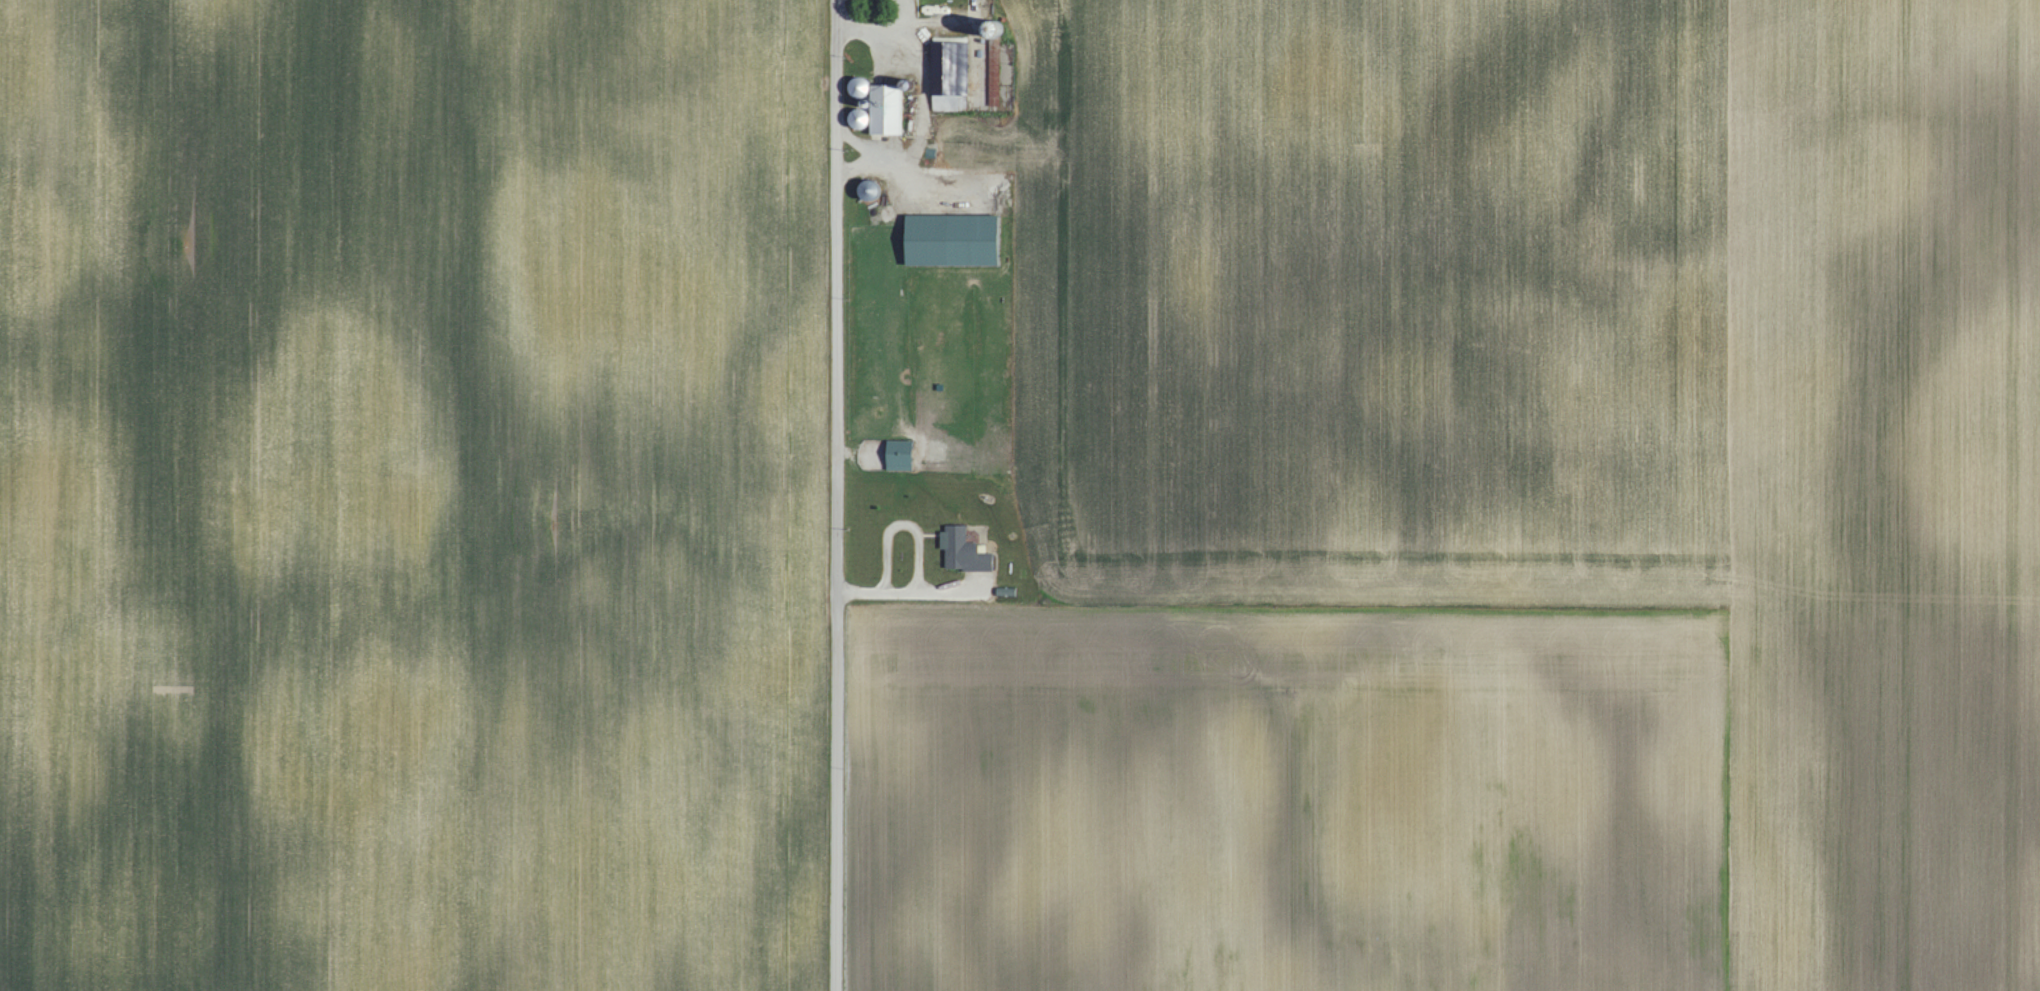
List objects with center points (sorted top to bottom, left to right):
road: (909, 19)
building: (977, 43)
building: (952, 74)
road: (923, 96)
road: (858, 143)
building: (956, 239)
building: (899, 449)
road: (837, 495)
building: (958, 544)
road: (921, 548)

